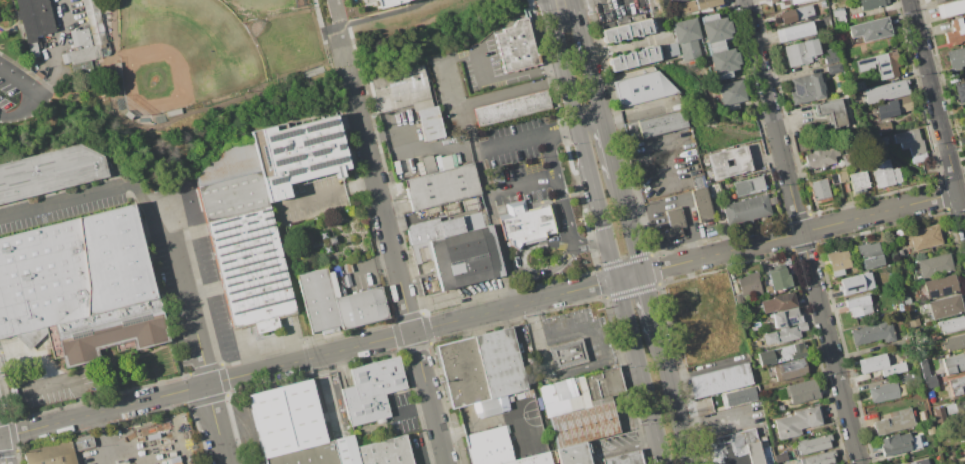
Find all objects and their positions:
building: (381, 1)
building: (676, 1)
building: (775, 1)
building: (799, 1)
building: (805, 1)
building: (927, 1)
building: (939, 1)
road: (559, 2)
road: (569, 2)
building: (706, 4)
building: (871, 4)
park: (256, 7)
building: (654, 8)
building: (951, 8)
road: (562, 13)
building: (795, 14)
road: (381, 15)
building: (838, 16)
building: (36, 20)
building: (94, 21)
building: (715, 30)
building: (626, 31)
building: (795, 31)
building: (869, 31)
road: (338, 32)
building: (955, 32)
building: (80, 38)
building: (687, 38)
park: (287, 42)
building: (516, 47)
road: (559, 49)
building: (673, 49)
building: (802, 53)
park: (182, 54)
building: (634, 58)
building: (956, 59)
rooftop solar panel: (864, 60)
building: (722, 61)
road: (757, 61)
park: (151, 62)
rooftop solar panel: (882, 62)
building: (33, 63)
road: (589, 65)
building: (882, 65)
building: (118, 69)
building: (834, 69)
road: (53, 70)
rooftop solar panel: (884, 71)
building: (39, 75)
road: (507, 78)
road: (18, 85)
building: (858, 86)
building: (398, 87)
building: (644, 88)
building: (807, 88)
road: (517, 91)
parking lot: (19, 92)
building: (960, 92)
building: (731, 93)
road: (932, 96)
building: (889, 98)
road: (573, 101)
building: (422, 105)
building: (512, 109)
building: (174, 112)
building: (832, 112)
building: (128, 115)
road: (194, 115)
road: (1, 117)
building: (964, 117)
road: (134, 120)
road: (591, 121)
building: (431, 123)
rooftop solar panel: (318, 124)
building: (657, 125)
building: (882, 127)
building: (963, 127)
road: (563, 129)
rooftop solar panel: (281, 132)
rooftop solar panel: (317, 136)
building: (882, 141)
road: (513, 143)
rooftop solar panel: (338, 144)
rooftop solar panel: (285, 146)
road: (610, 146)
building: (913, 146)
road: (409, 147)
rooftop solar panel: (316, 148)
rooftop solar panel: (272, 149)
rooftop solar panel: (265, 155)
road: (552, 155)
rooftop solar panel: (286, 156)
building: (821, 158)
building: (850, 159)
rooftop solar panel: (321, 161)
building: (230, 163)
building: (712, 163)
building: (429, 165)
rooftop solar panel: (292, 169)
building: (50, 172)
building: (884, 174)
building: (838, 176)
rooftop solar panel: (276, 179)
building: (698, 182)
building: (858, 182)
road: (522, 184)
building: (749, 186)
building: (442, 187)
building: (820, 191)
road: (538, 192)
road: (326, 196)
road: (562, 198)
road: (683, 200)
building: (772, 200)
road: (63, 201)
road: (564, 205)
building: (702, 205)
road: (961, 207)
building: (746, 209)
road: (149, 210)
rooftop solar panel: (264, 211)
rooftop solar panel: (251, 214)
rooftop solar panel: (245, 215)
rooftop solar panel: (267, 216)
building: (265, 217)
rooftop solar panel: (221, 220)
building: (475, 221)
rooftop solar panel: (246, 222)
rooftop solar panel: (252, 222)
building: (525, 223)
road: (629, 224)
building: (671, 226)
building: (452, 227)
rooftop solar panel: (223, 228)
rooftop solar panel: (259, 228)
rooftop solar panel: (247, 231)
building: (424, 231)
rooftop solar panel: (258, 235)
rooftop solar panel: (226, 236)
road: (499, 236)
building: (923, 237)
rooftop solar panel: (251, 238)
rooftop solar panel: (256, 243)
road: (589, 244)
rooftop solar panel: (266, 248)
building: (870, 255)
rooftop solar panel: (466, 257)
building: (466, 258)
rooftop solar panel: (257, 259)
building: (838, 262)
road: (396, 264)
building: (935, 266)
road: (367, 267)
rooftop solar panel: (257, 268)
road: (524, 268)
rooftop solar panel: (274, 271)
rooftop solar panel: (257, 276)
building: (779, 279)
building: (867, 280)
rooftop solar panel: (269, 281)
road: (295, 282)
building: (851, 284)
building: (435, 285)
building: (750, 285)
building: (80, 287)
building: (940, 287)
rooftop solar panel: (269, 289)
rooftop solar panel: (944, 290)
road: (816, 293)
rooftop solar panel: (930, 293)
road: (621, 294)
building: (906, 300)
rooftop solar panel: (275, 301)
building: (318, 301)
building: (778, 302)
road: (650, 305)
building: (858, 305)
building: (945, 307)
building: (361, 308)
road: (478, 315)
building: (786, 318)
rooftop solar panel: (791, 319)
road: (535, 323)
rooftop solar panel: (778, 324)
building: (951, 325)
road: (583, 332)
building: (873, 333)
building: (785, 334)
road: (291, 340)
building: (954, 342)
road: (200, 350)
road: (249, 351)
building: (568, 354)
building: (780, 354)
road: (620, 355)
building: (501, 363)
building: (873, 363)
building: (954, 364)
building: (904, 367)
building: (790, 370)
building: (463, 372)
road: (560, 374)
building: (928, 376)
building: (910, 378)
road: (70, 381)
building: (720, 381)
building: (957, 385)
building: (372, 391)
building: (583, 392)
building: (802, 392)
building: (886, 392)
building: (742, 395)
road: (674, 400)
building: (703, 406)
building: (490, 407)
building: (780, 408)
road: (413, 410)
building: (935, 412)
building: (956, 413)
building: (287, 418)
building: (798, 422)
building: (894, 422)
building: (585, 424)
building: (931, 429)
road: (104, 438)
building: (898, 443)
building: (813, 444)
building: (941, 444)
building: (493, 447)
road: (628, 448)
building: (734, 449)
building: (345, 450)
building: (58, 451)
road: (3, 452)
building: (385, 452)
building: (306, 455)
building: (573, 455)
building: (625, 458)
building: (820, 458)
building: (534, 459)
road: (597, 460)
building: (919, 462)

